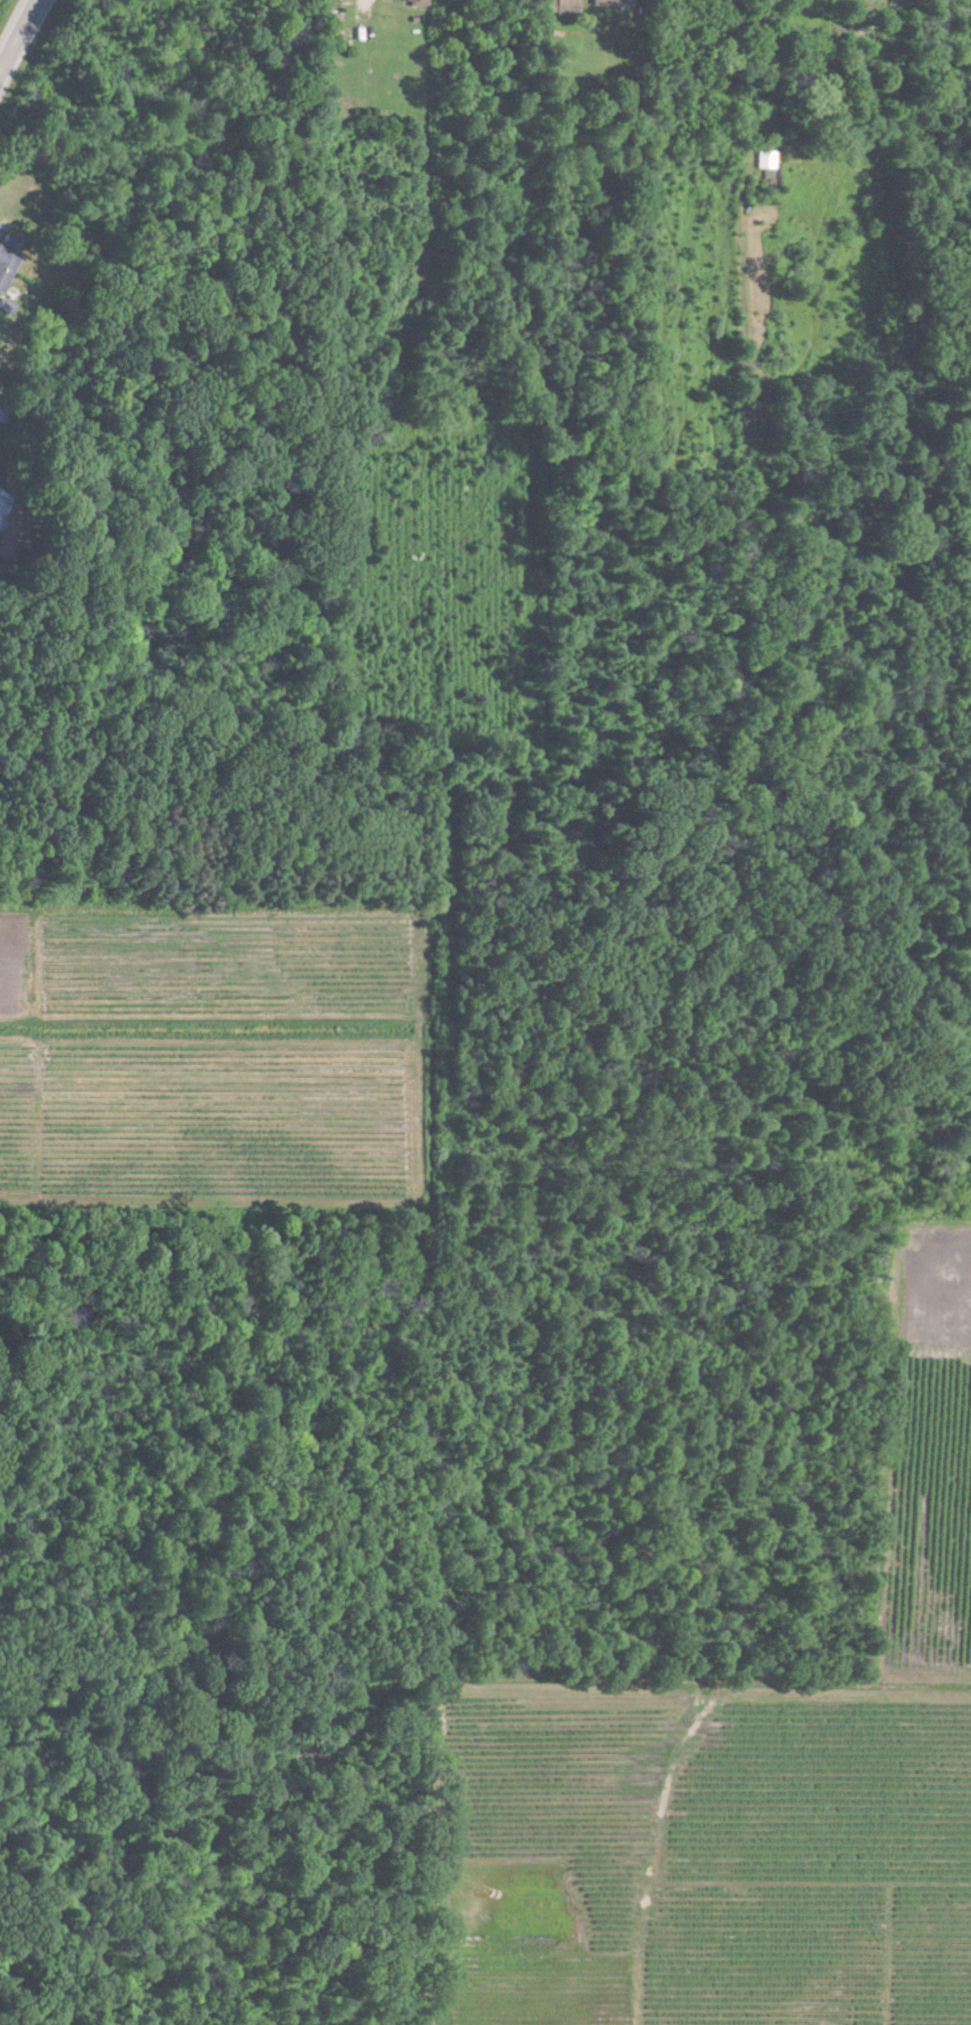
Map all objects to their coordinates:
building: (416, 3)
building: (612, 3)
building: (566, 6)
building: (332, 27)
road: (20, 39)
building: (765, 160)
building: (6, 265)

